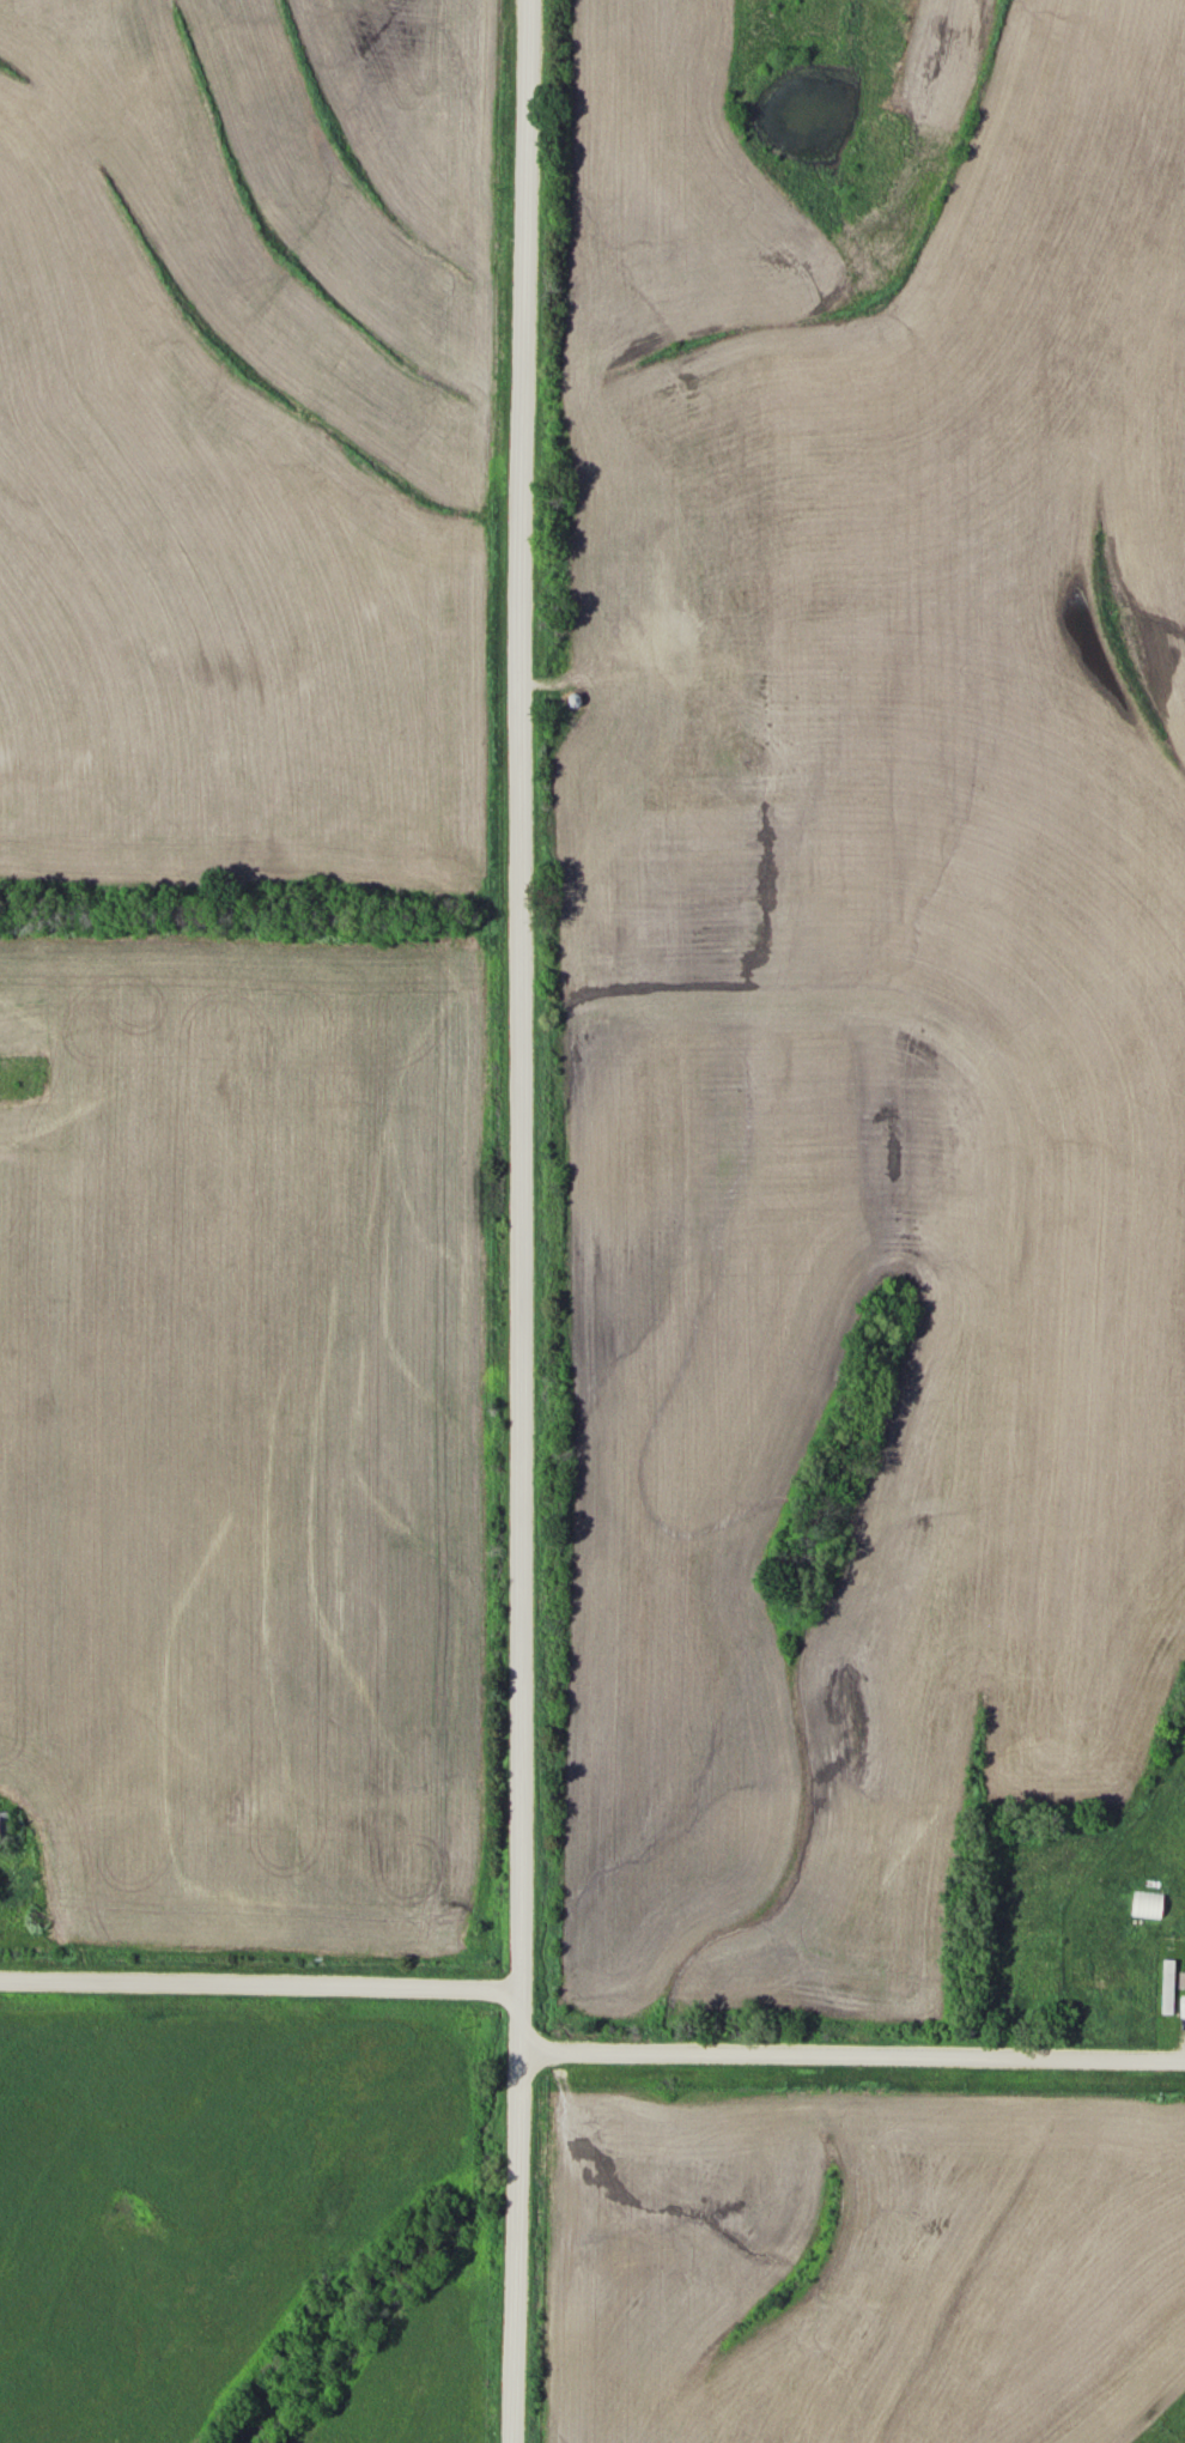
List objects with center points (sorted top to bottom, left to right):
road: (523, 1220)
building: (5, 1826)
building: (1144, 1902)
road: (261, 1982)
building: (1168, 1983)
road: (853, 2050)

